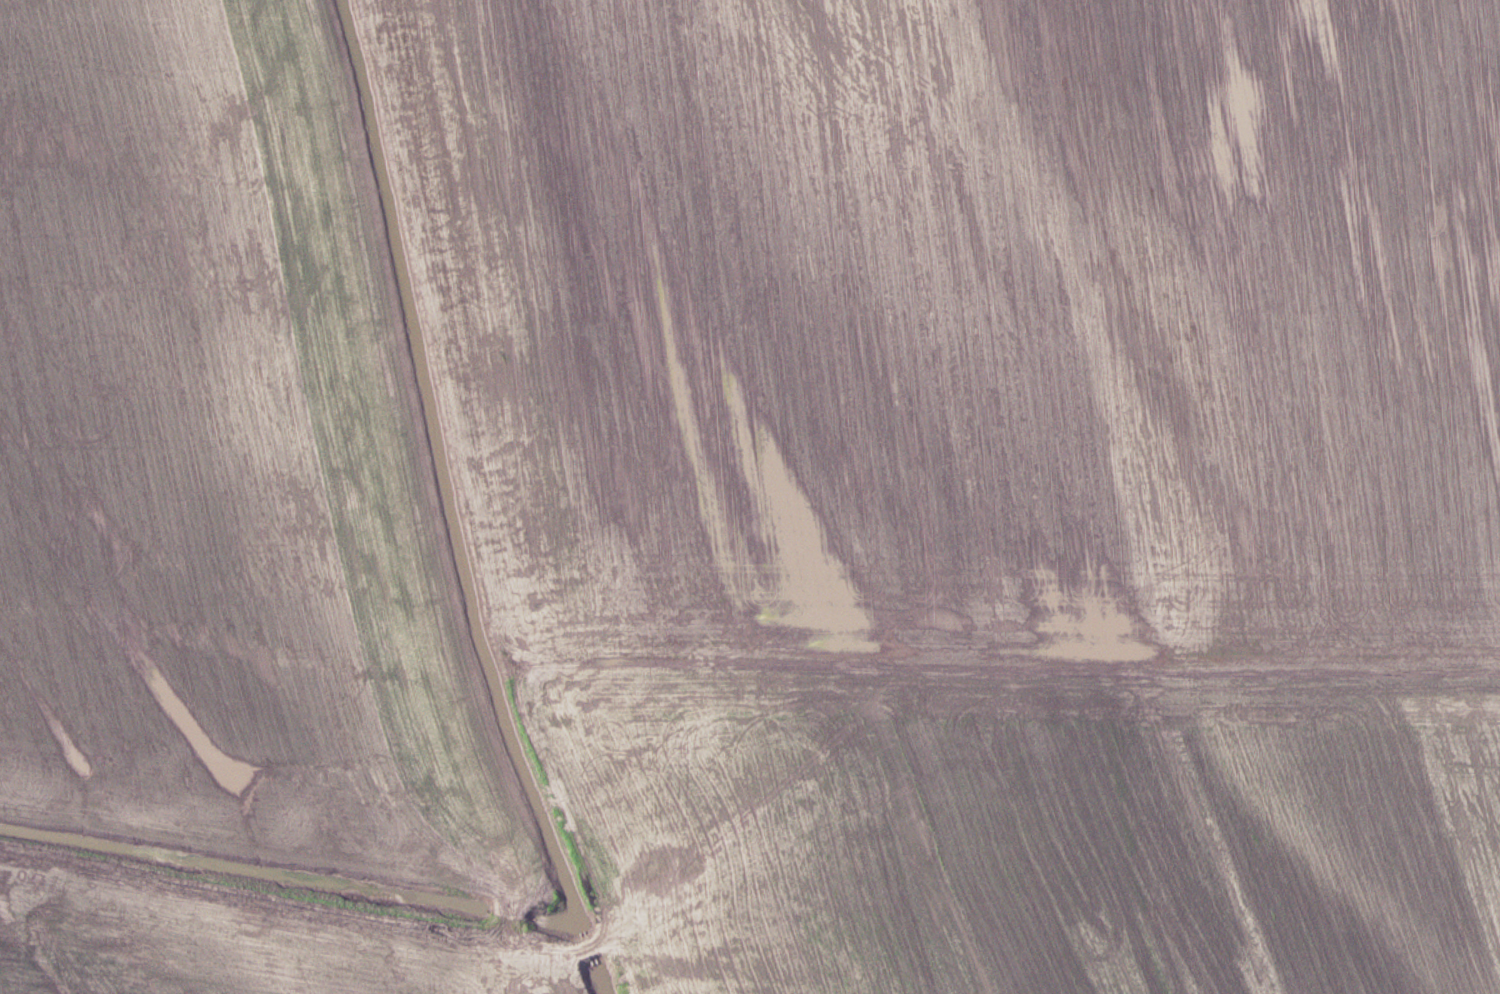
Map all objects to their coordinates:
road: (232, 812)

